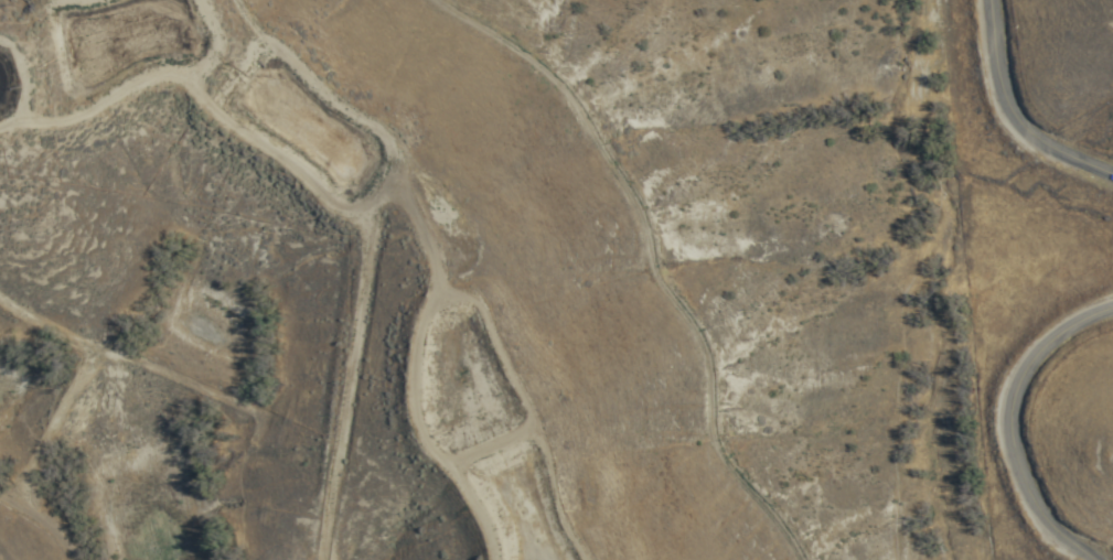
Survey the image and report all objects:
road: (1013, 114)
road: (335, 229)
road: (585, 245)
road: (1013, 428)
road: (38, 521)

